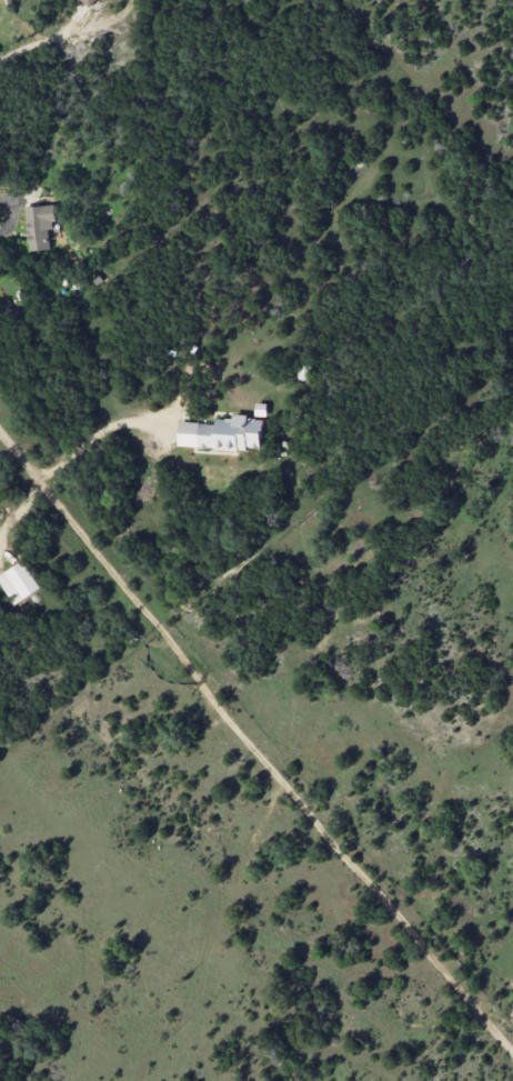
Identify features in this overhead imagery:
building: (87, 1)
road: (10, 216)
building: (39, 228)
road: (97, 432)
building: (222, 433)
building: (19, 582)
road: (251, 748)

